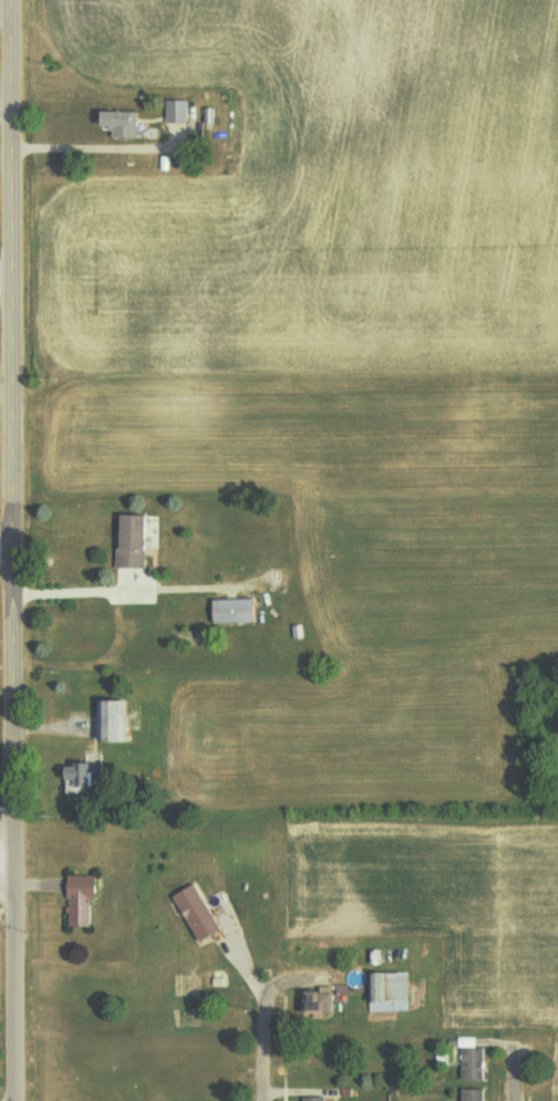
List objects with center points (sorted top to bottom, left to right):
building: (178, 112)
building: (123, 124)
road: (7, 283)
crop: (334, 351)
road: (12, 403)
building: (135, 542)
road: (6, 553)
building: (236, 611)
building: (116, 723)
building: (87, 776)
building: (82, 899)
crop: (447, 911)
building: (200, 913)
road: (10, 954)
building: (392, 990)
road: (261, 1055)
road: (514, 1074)
crop: (557, 1090)
building: (318, 1099)

